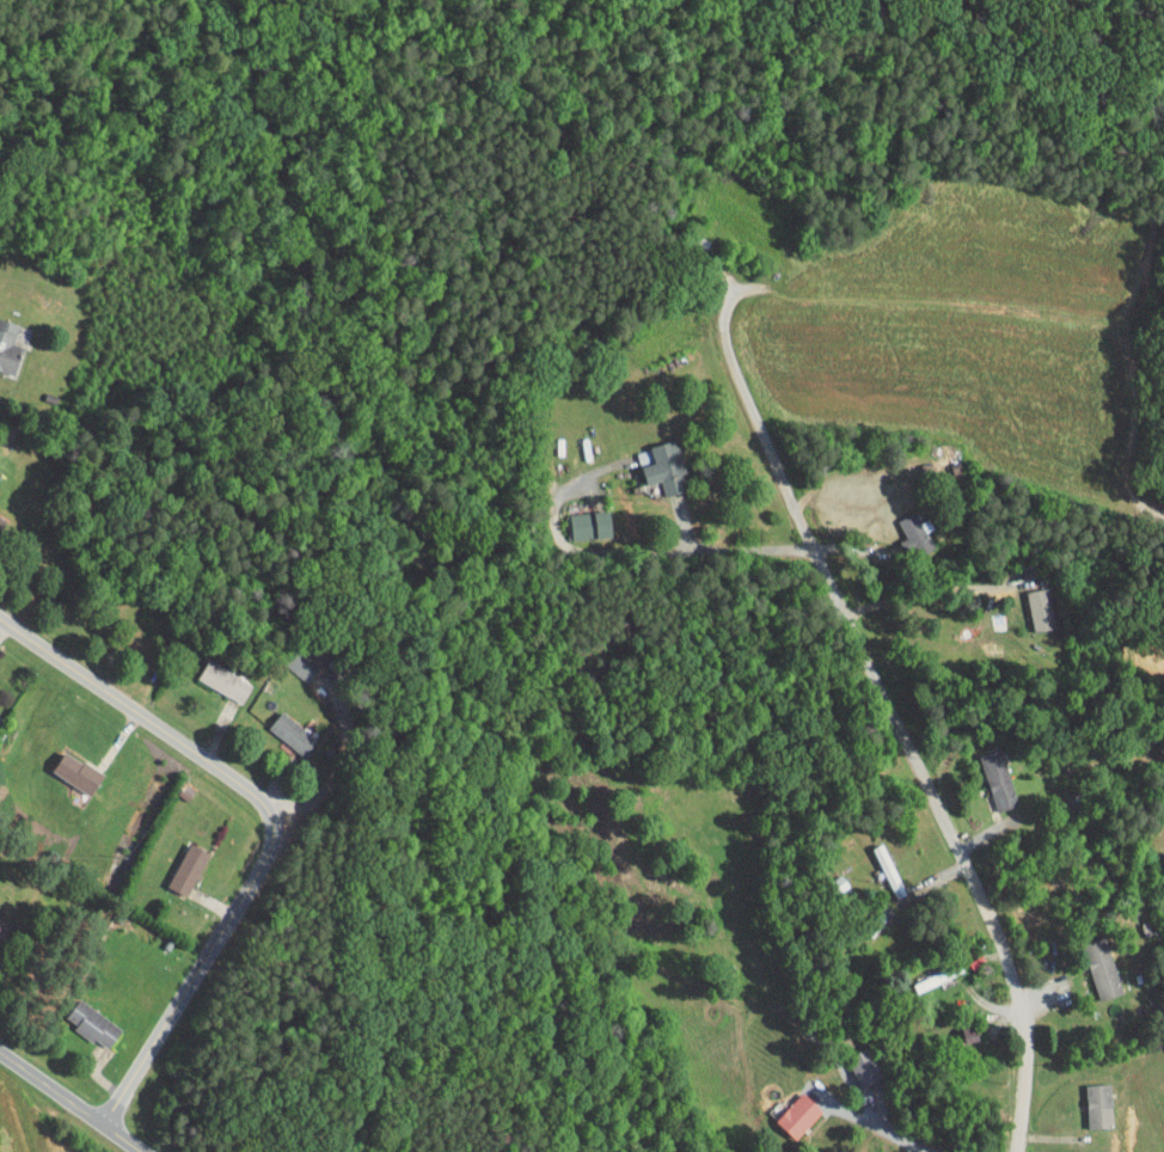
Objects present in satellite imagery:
building: (2, 343)
road: (108, 419)
building: (655, 459)
building: (577, 516)
building: (903, 527)
road: (621, 551)
road: (929, 593)
building: (1027, 601)
building: (213, 673)
road: (890, 716)
building: (280, 725)
building: (66, 764)
road: (337, 771)
building: (986, 772)
road: (272, 828)
building: (176, 860)
building: (1090, 961)
building: (81, 1016)
building: (854, 1060)
building: (1088, 1097)
road: (71, 1102)
building: (786, 1107)
road: (890, 1133)

